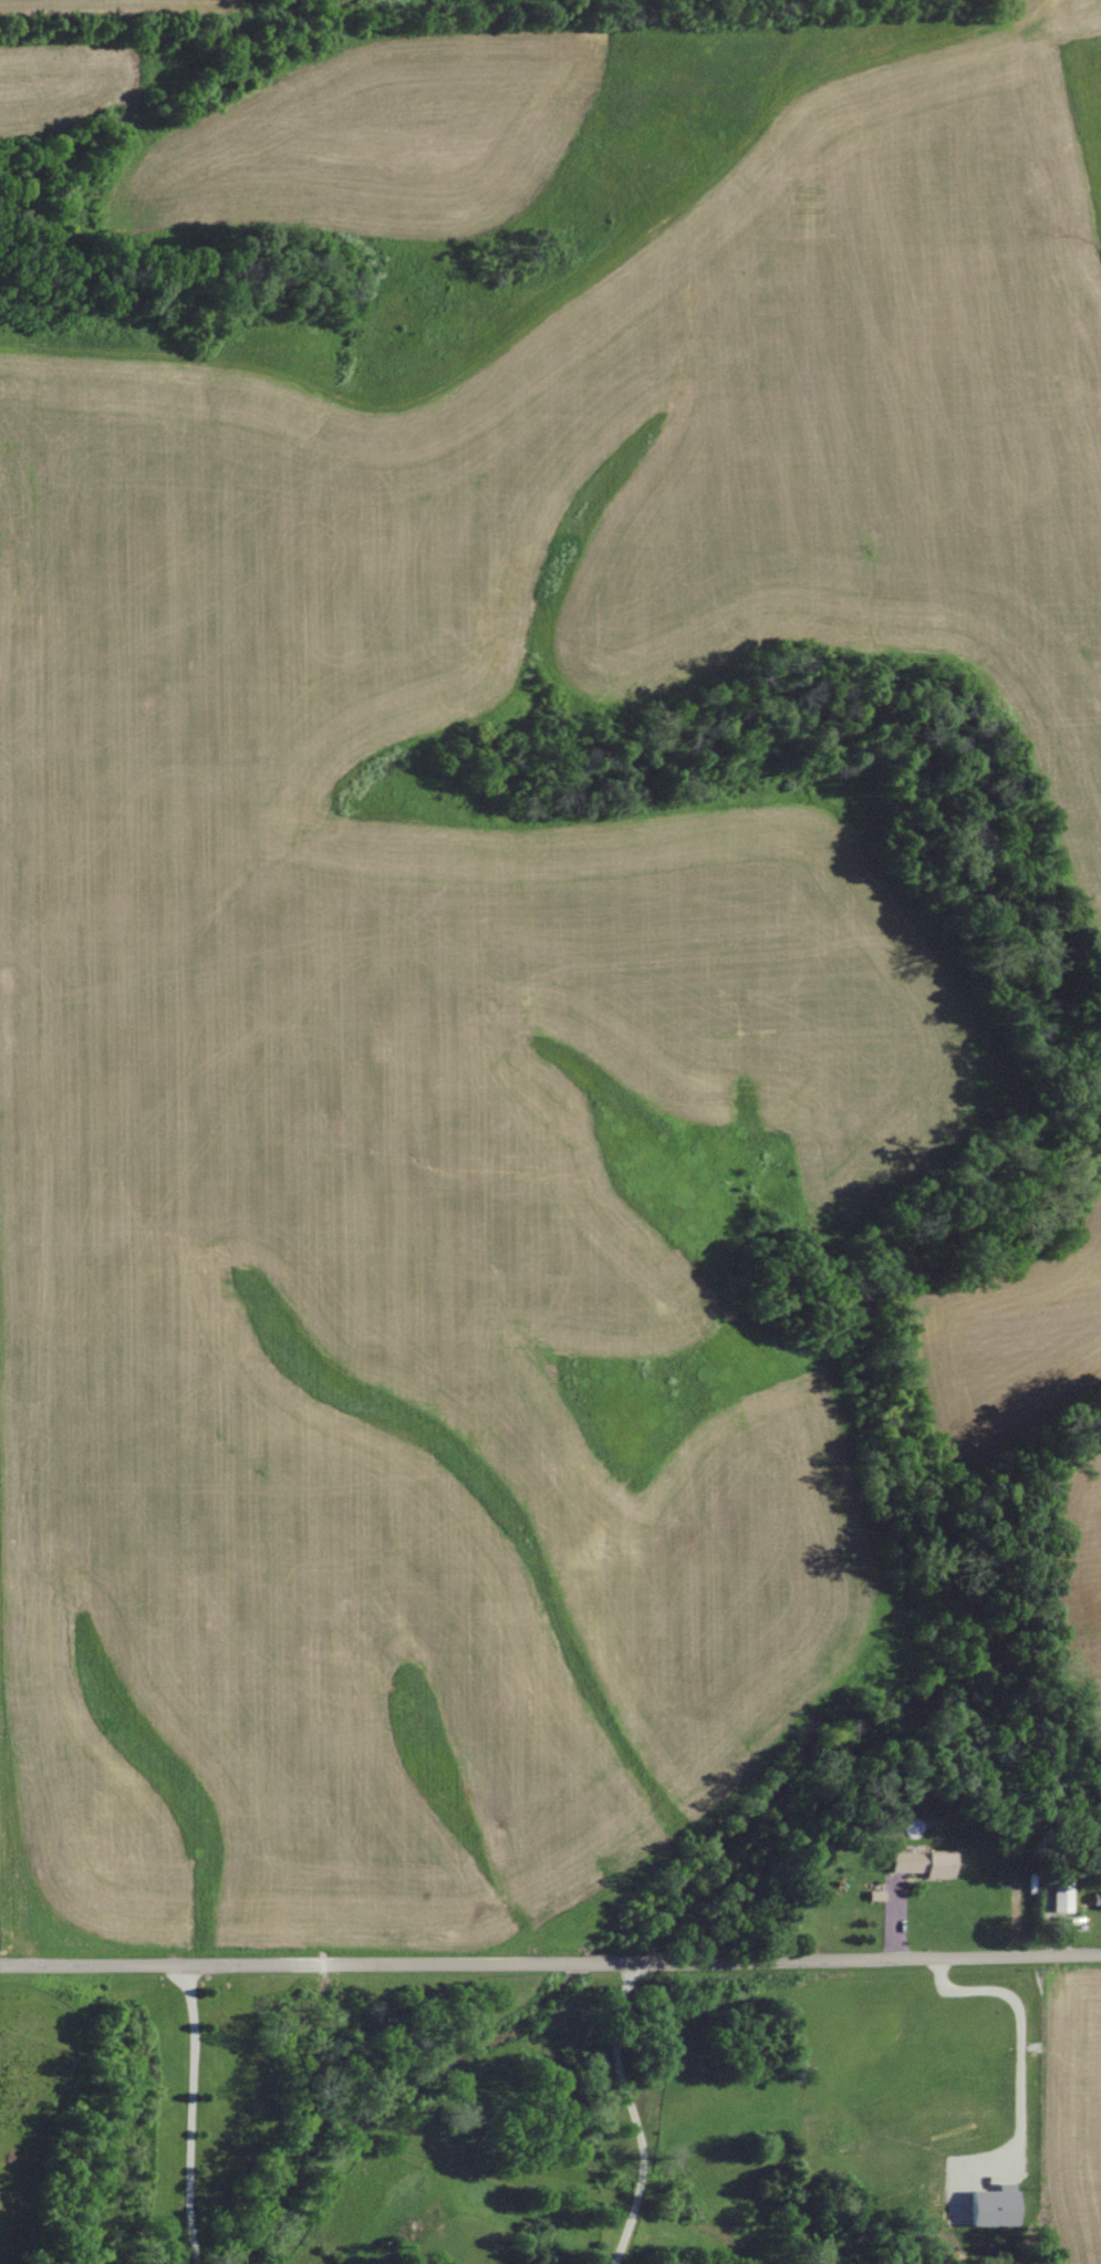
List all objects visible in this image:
building: (922, 1865)
building: (1061, 1899)
building: (1100, 1899)
road: (550, 1960)
road: (190, 2112)
road: (634, 2117)
building: (991, 2206)

